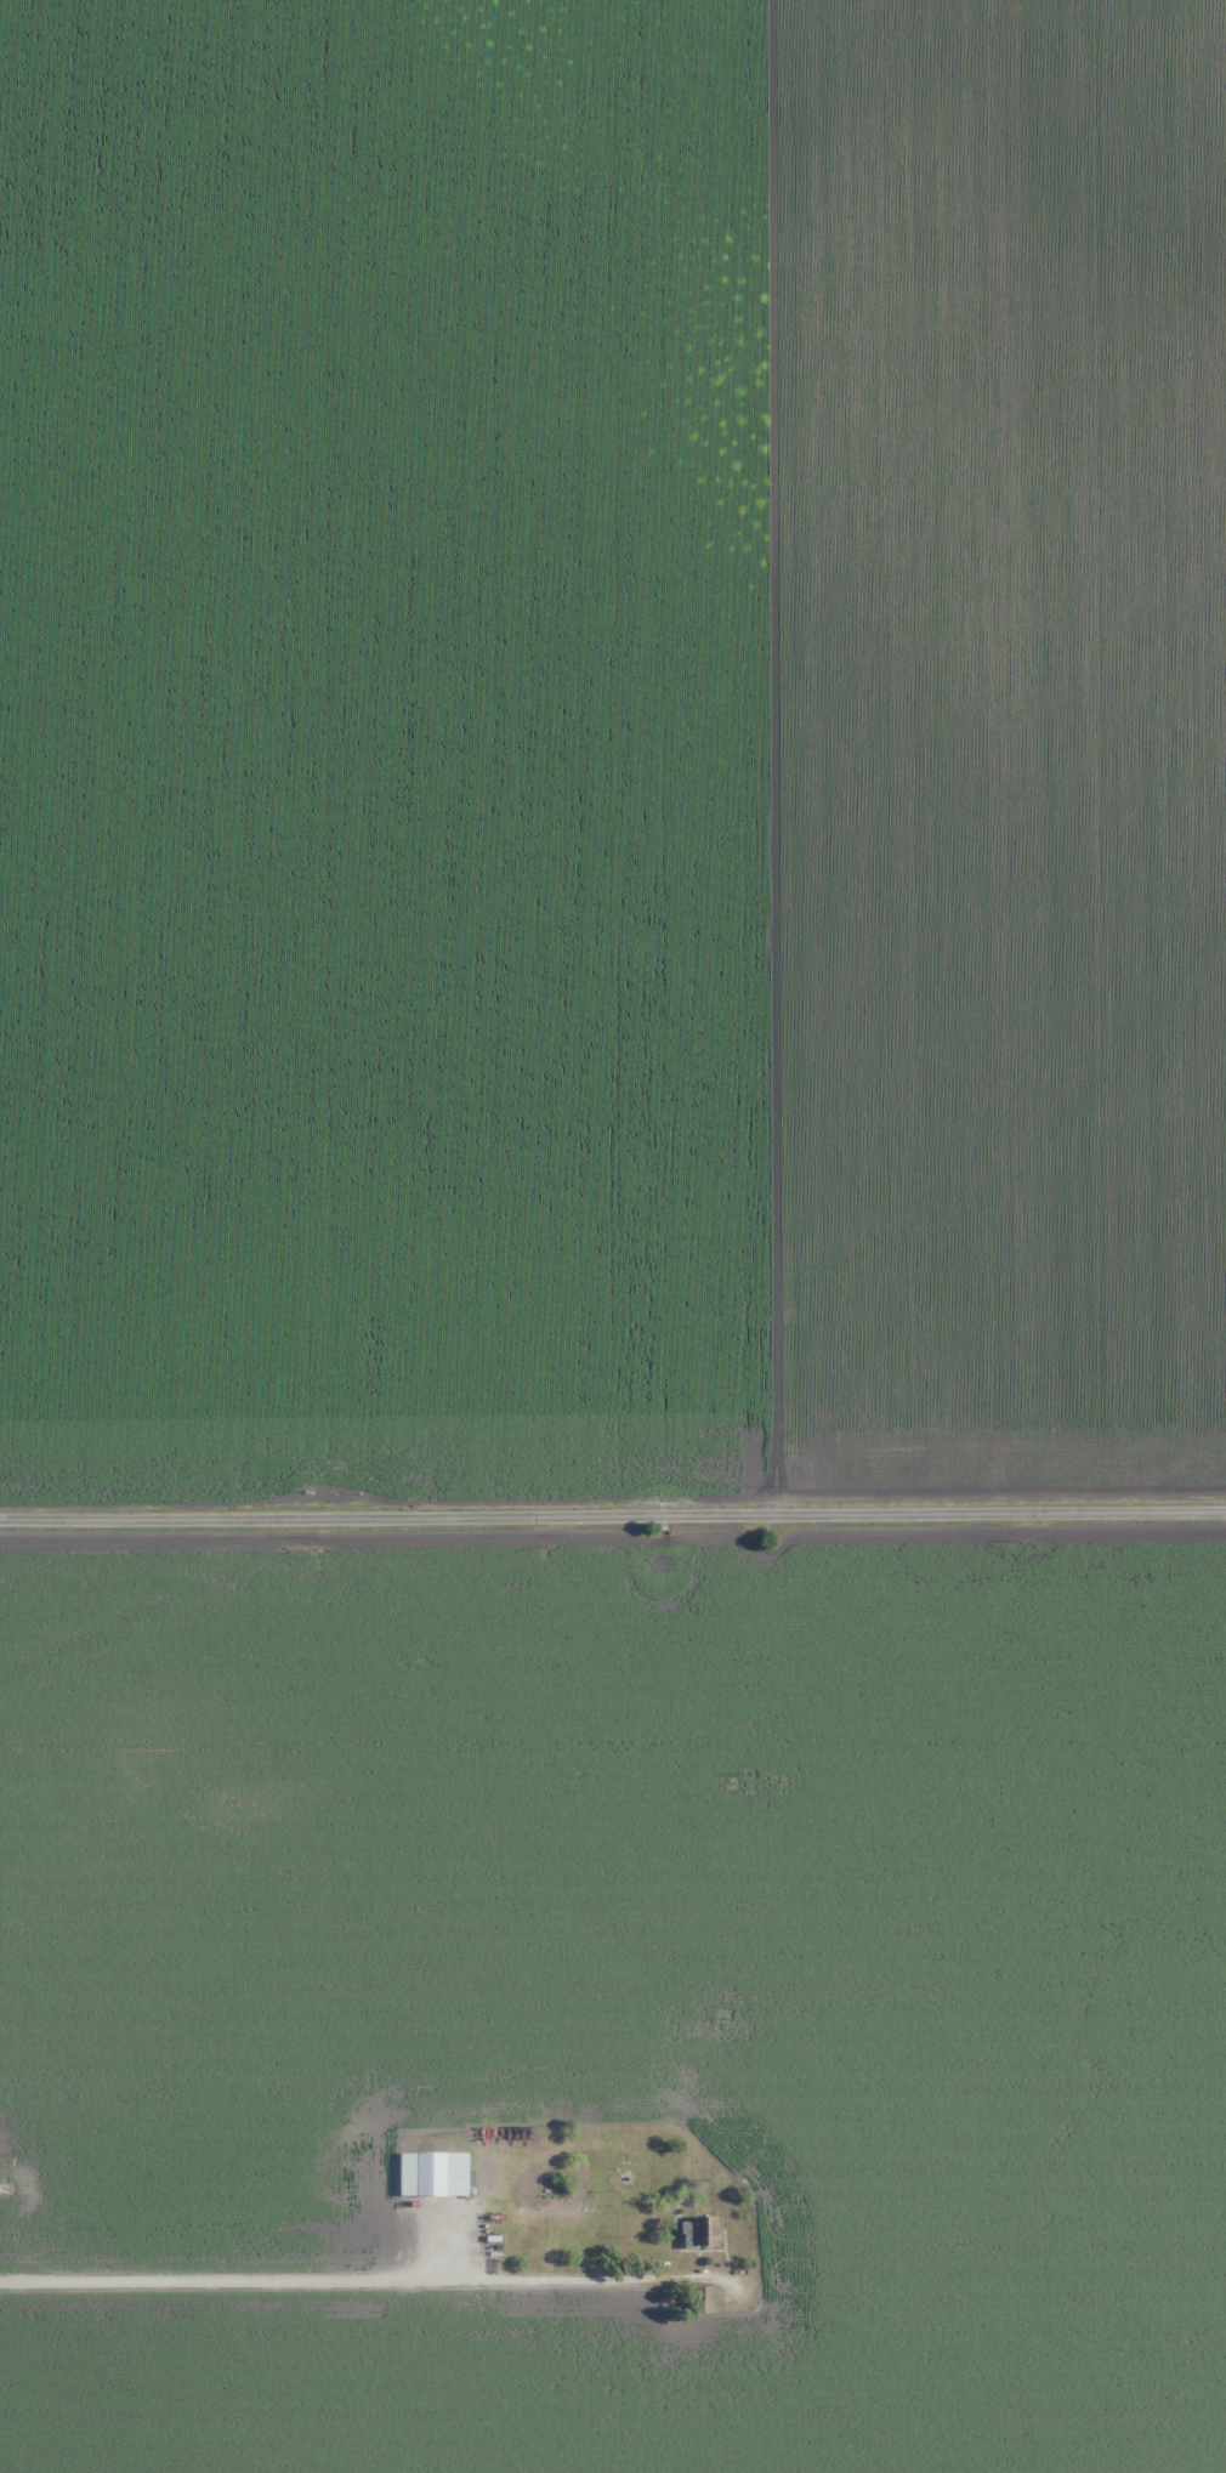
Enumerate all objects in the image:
road: (613, 1492)
building: (413, 2173)
building: (447, 2173)
building: (698, 2233)
building: (493, 2237)
road: (320, 2280)
building: (702, 2299)

